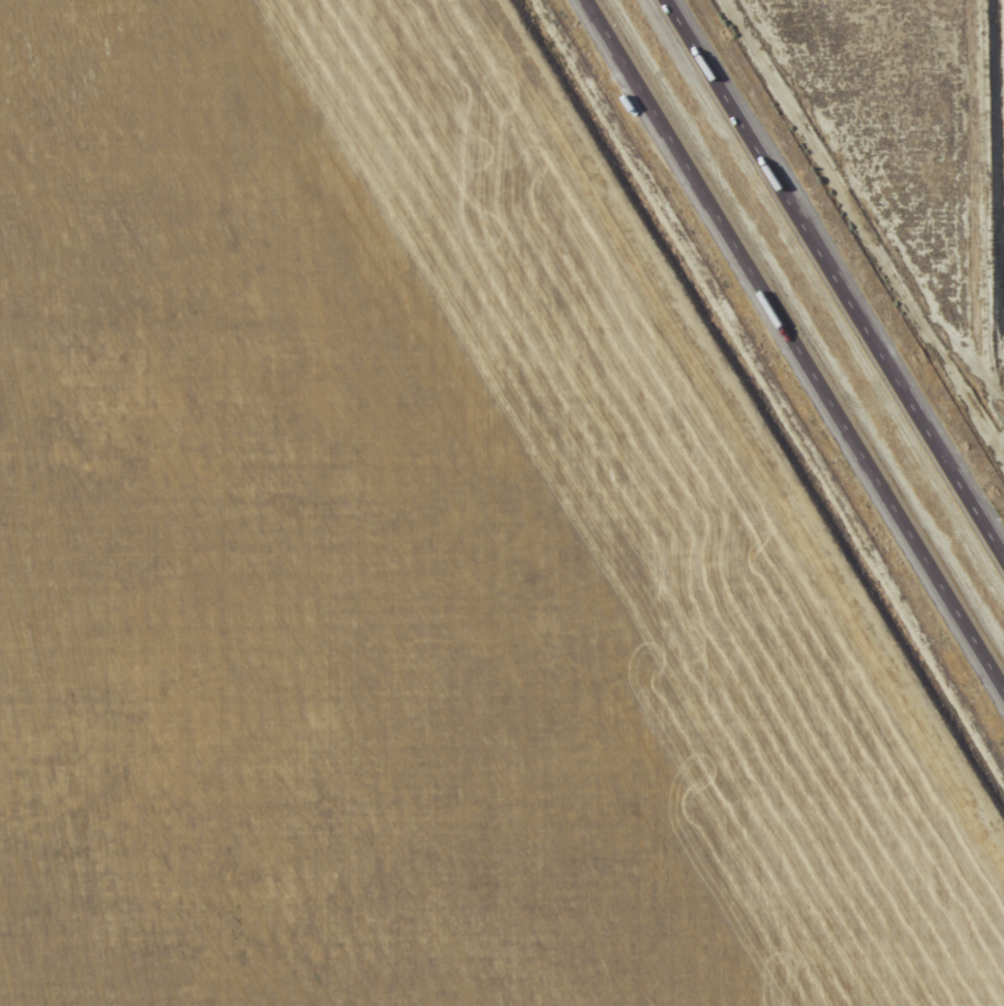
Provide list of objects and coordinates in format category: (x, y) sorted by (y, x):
road: (836, 275)
road: (795, 343)

